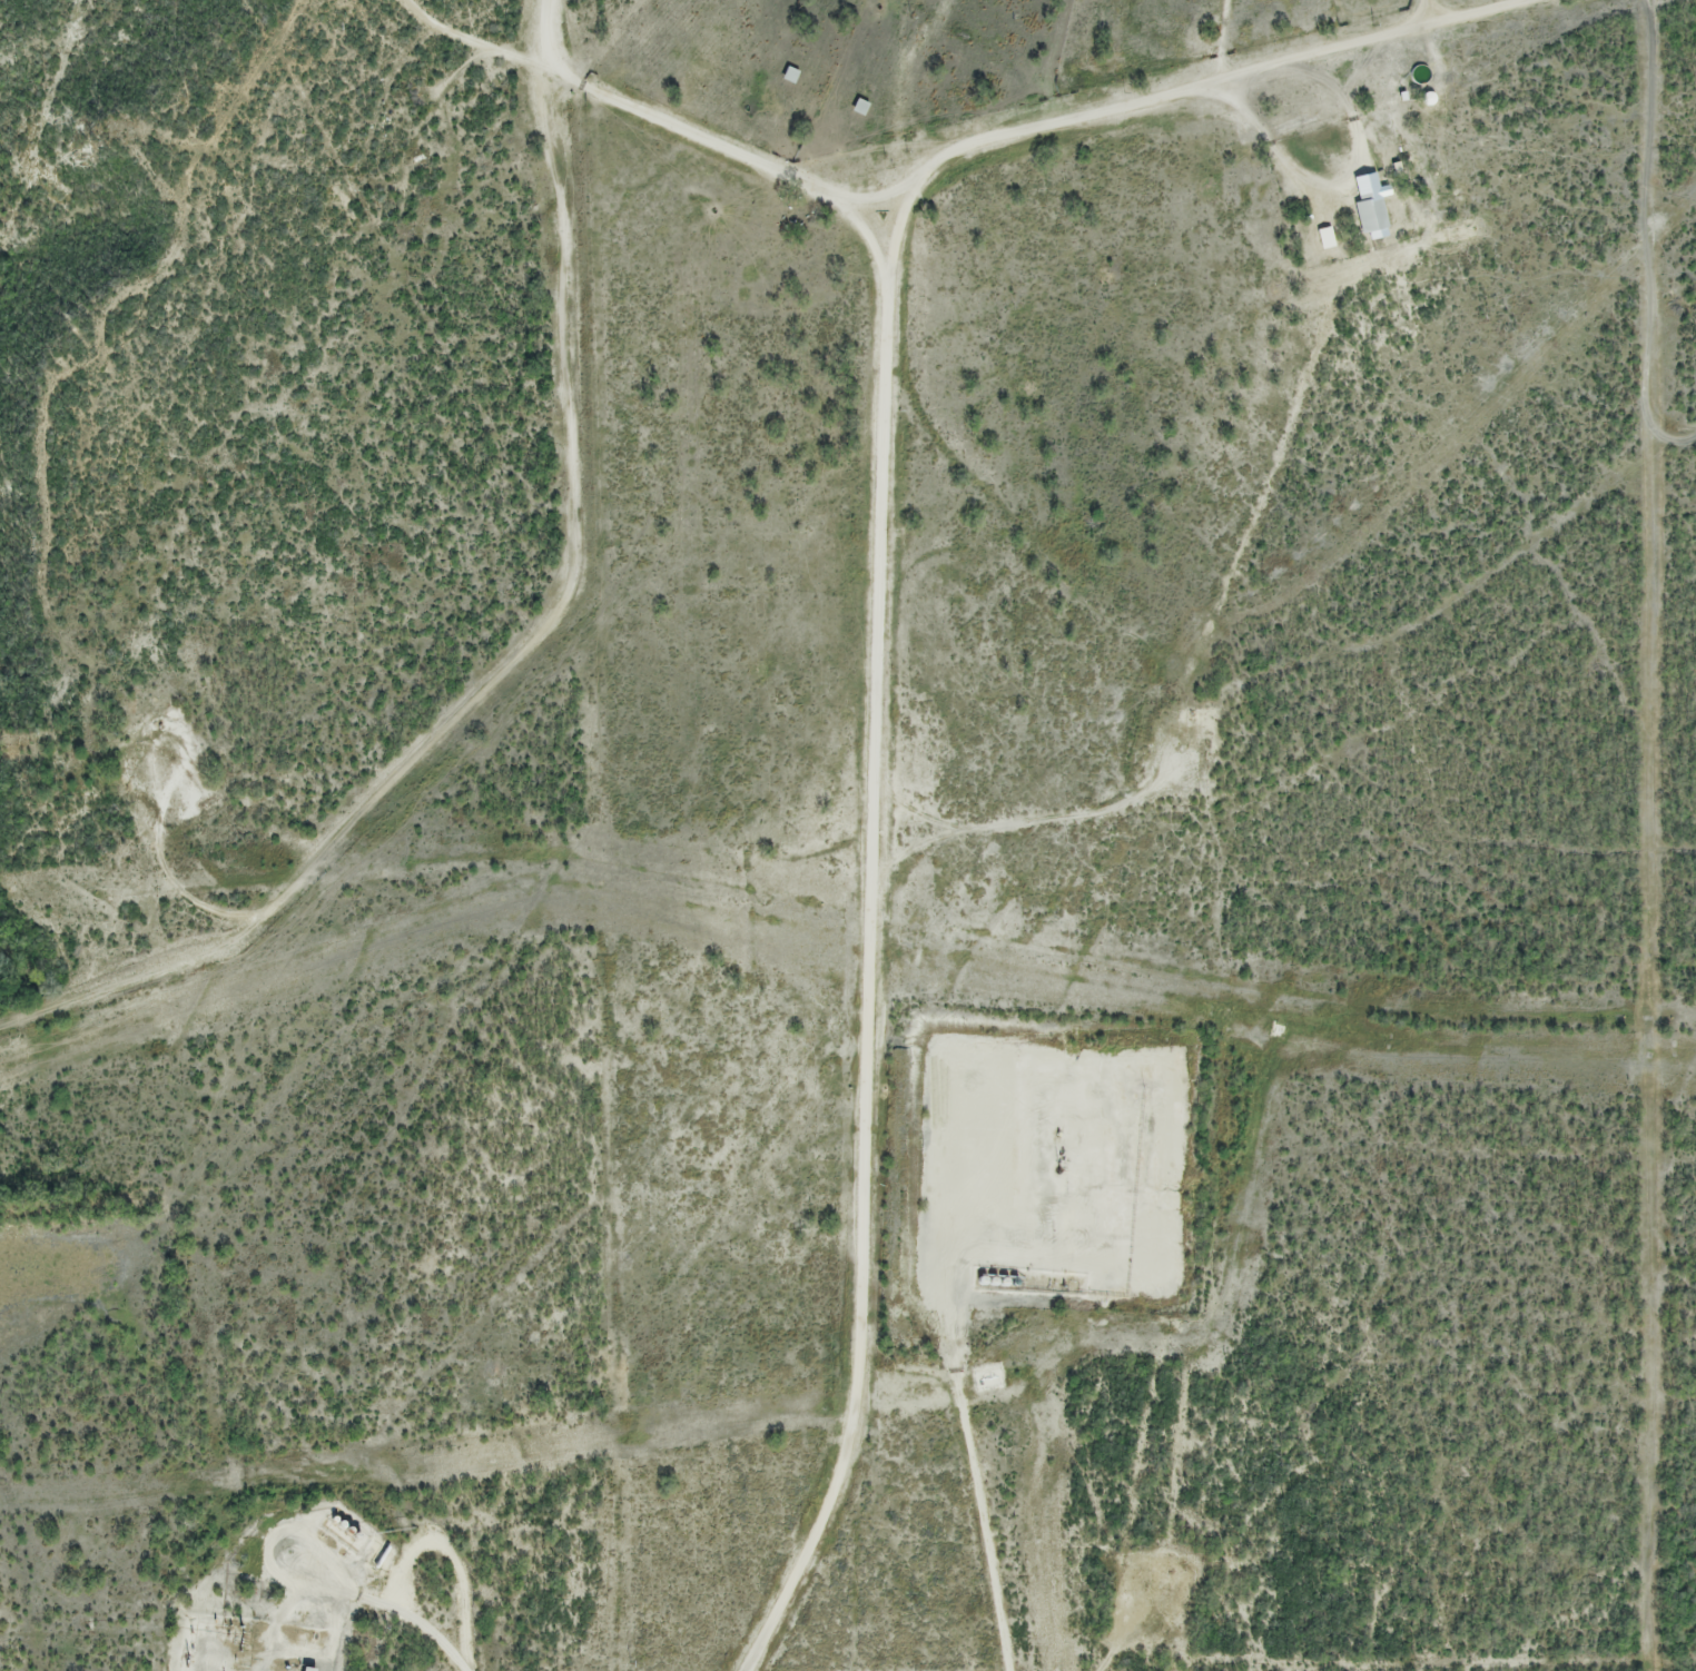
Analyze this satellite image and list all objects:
building: (789, 73)
building: (861, 105)
building: (1372, 204)
building: (1327, 235)
road: (877, 612)

